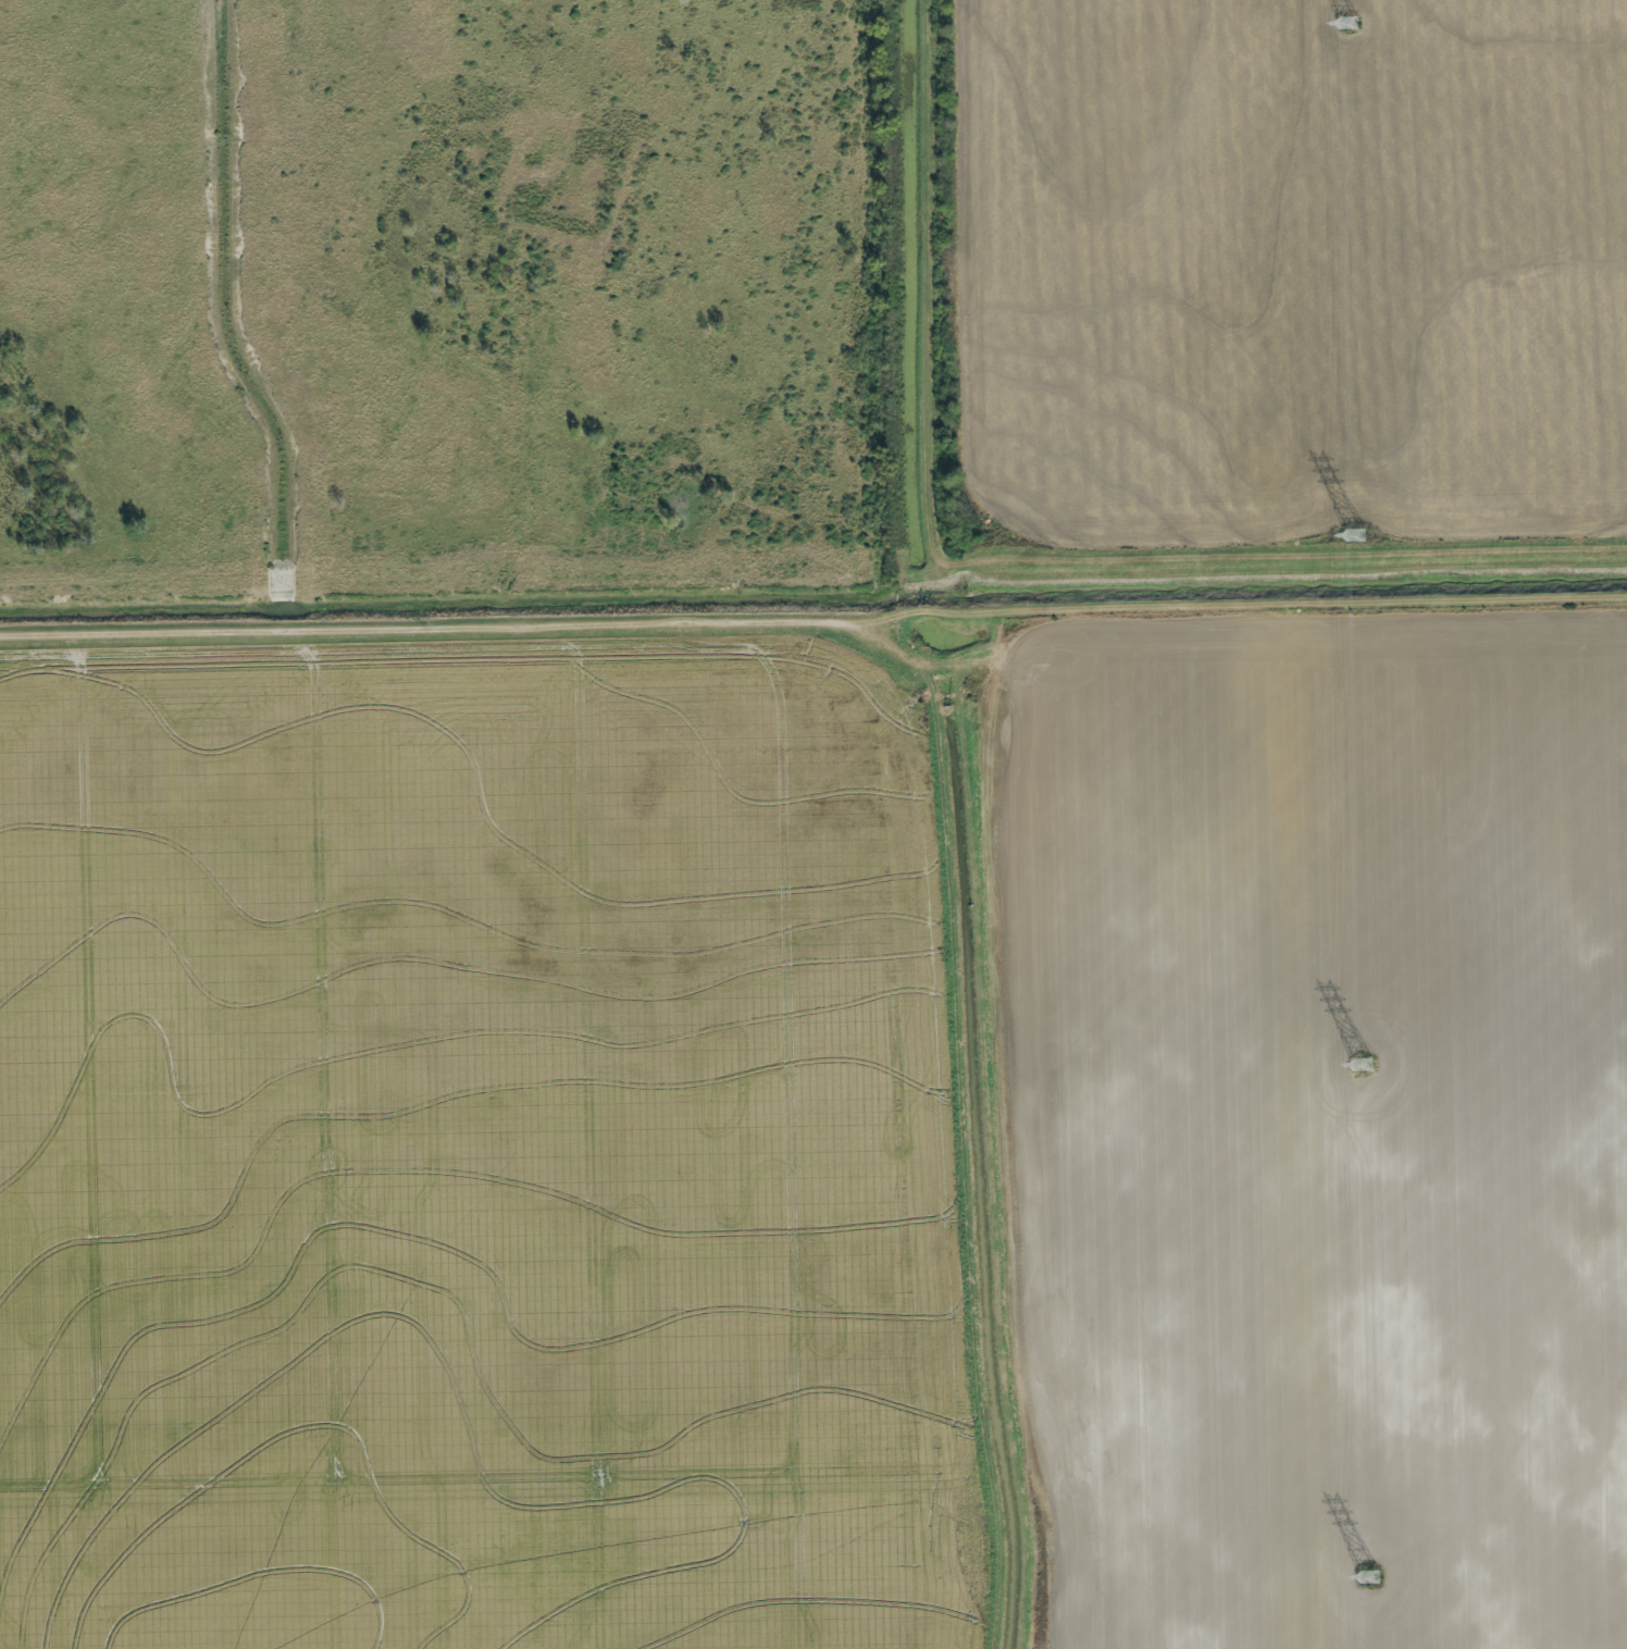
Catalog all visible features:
power tower: (1349, 24)
power tower: (1355, 535)
power tower: (1362, 1065)
power tower: (1369, 1577)

